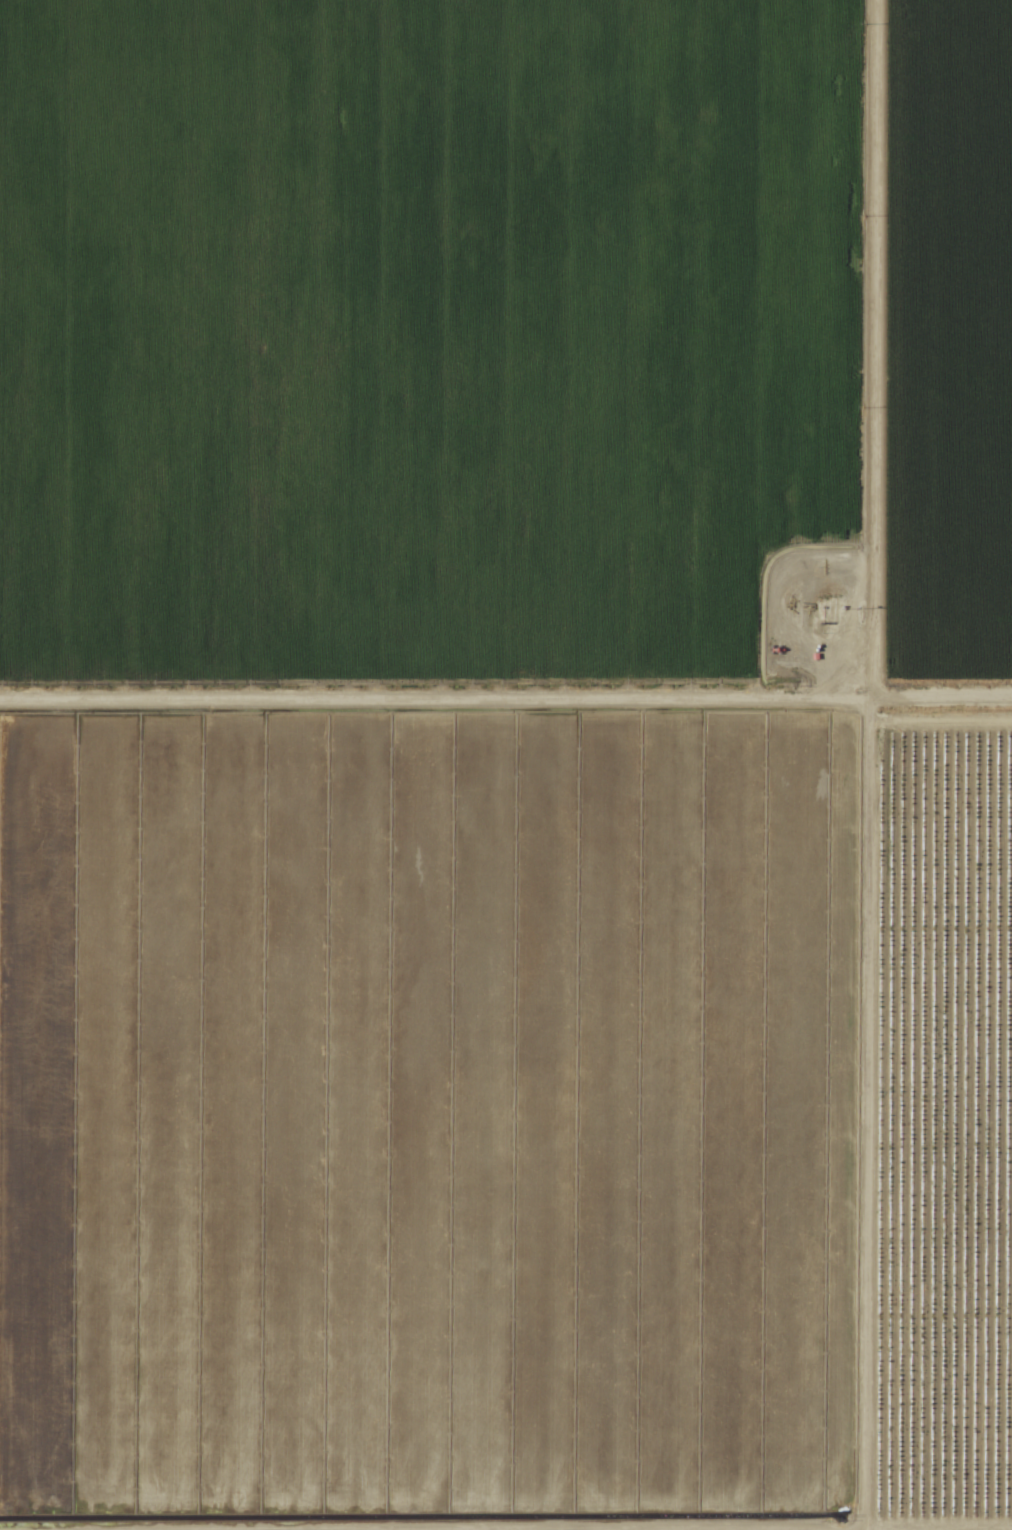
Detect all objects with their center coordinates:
road: (506, 687)
road: (869, 765)
road: (936, 1528)

